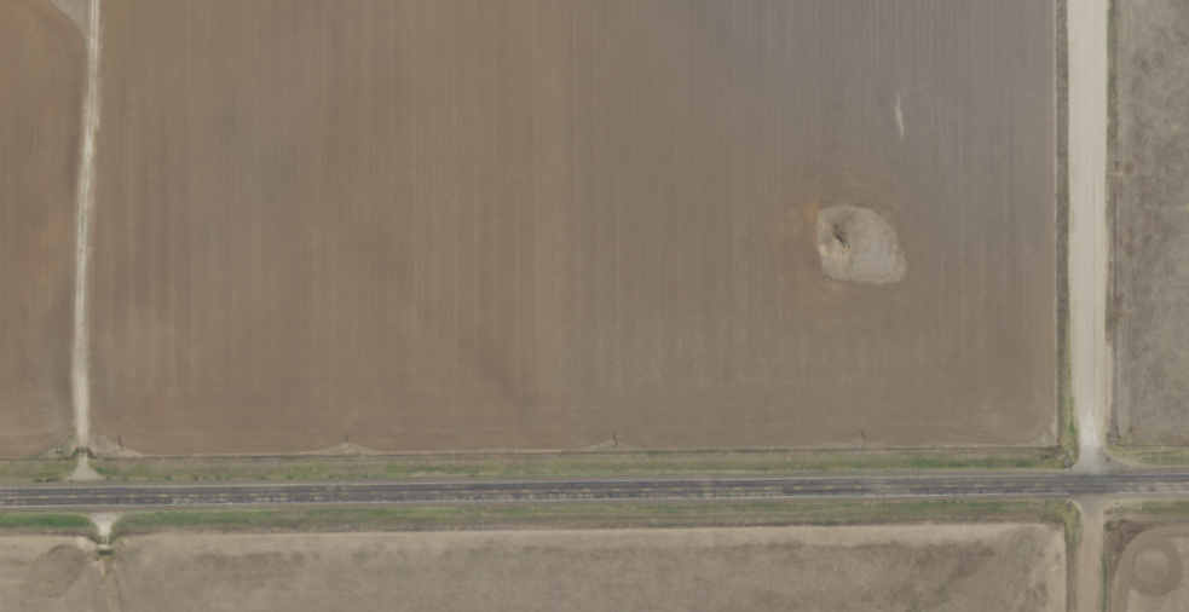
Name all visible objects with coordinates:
road: (1096, 242)
road: (594, 491)
road: (1096, 547)

